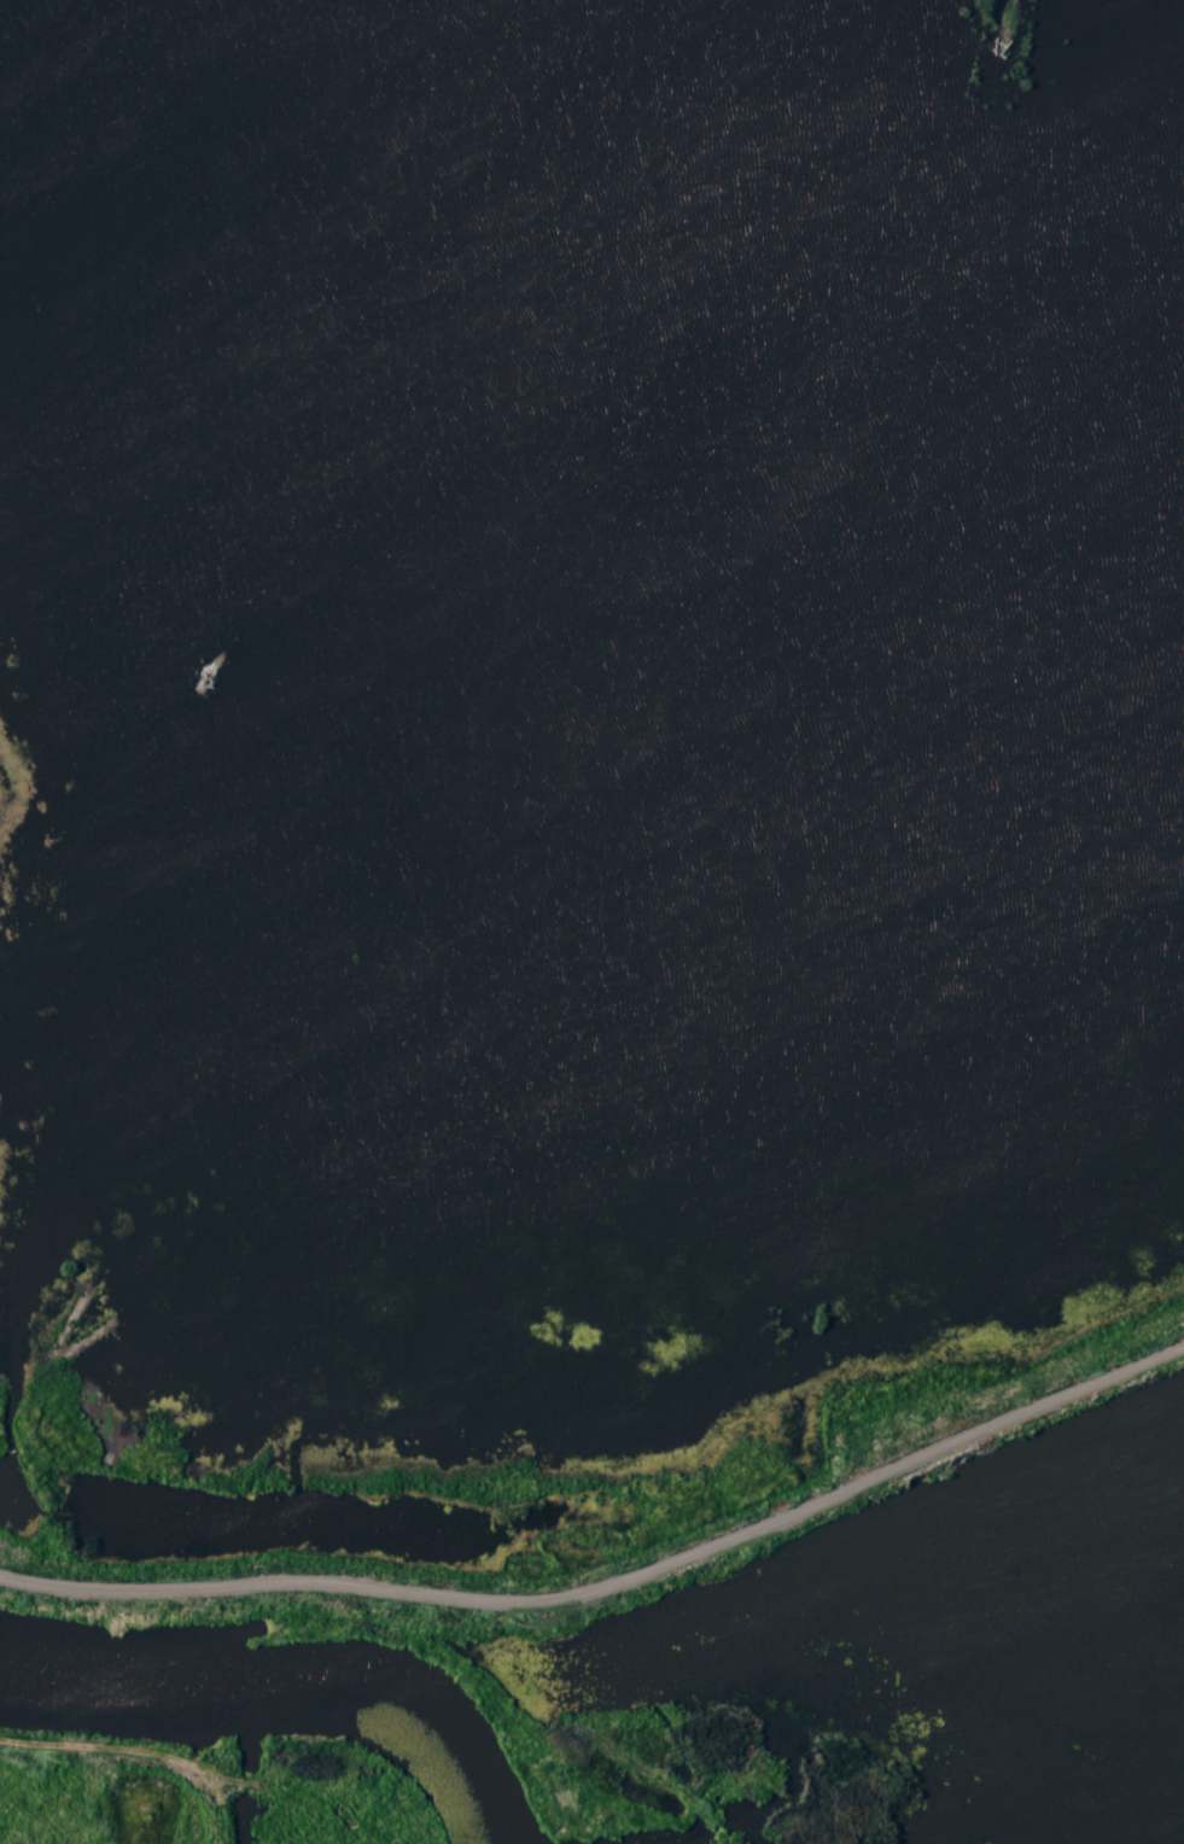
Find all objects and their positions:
river: (305, 1670)

